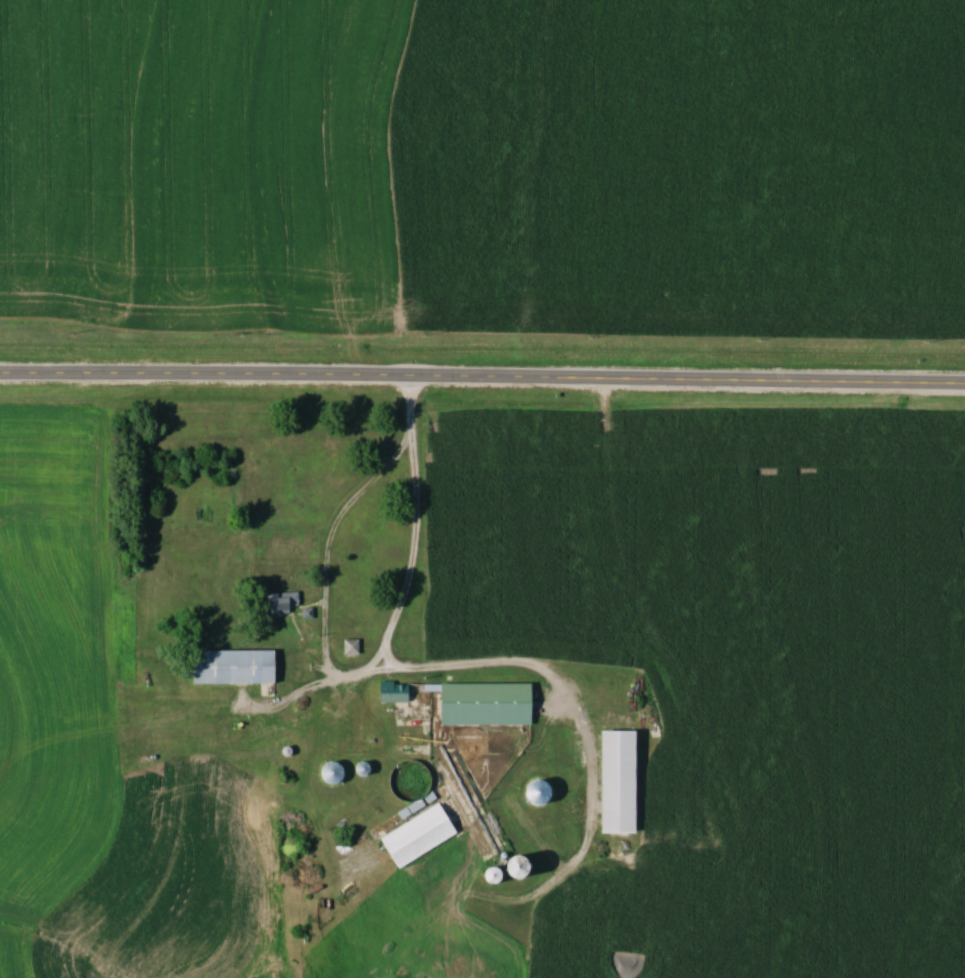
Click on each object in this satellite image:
road: (482, 373)
road: (411, 407)
building: (277, 603)
building: (230, 667)
road: (375, 670)
building: (451, 705)
building: (357, 768)
building: (327, 772)
building: (611, 782)

